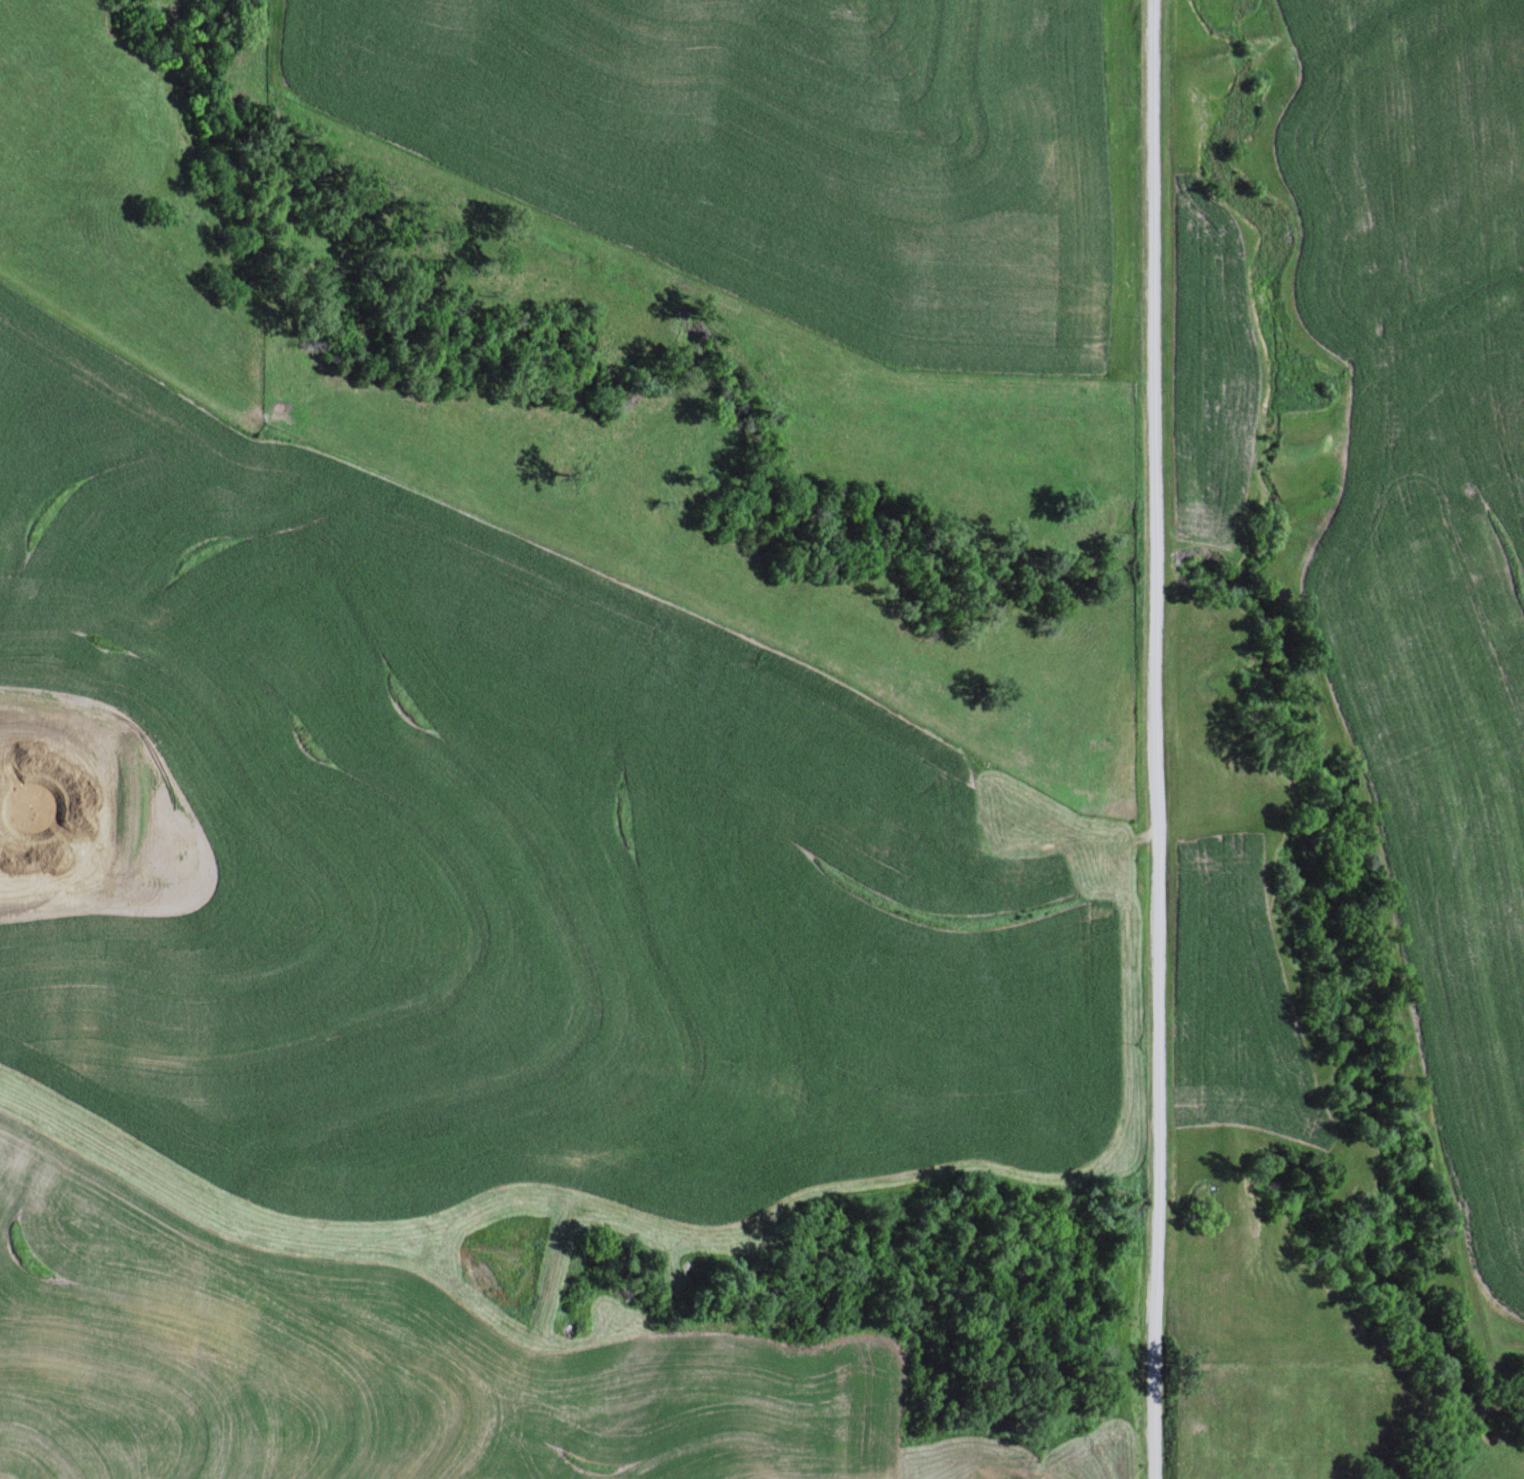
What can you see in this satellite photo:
road: (1162, 739)
wind turbine: (33, 809)

